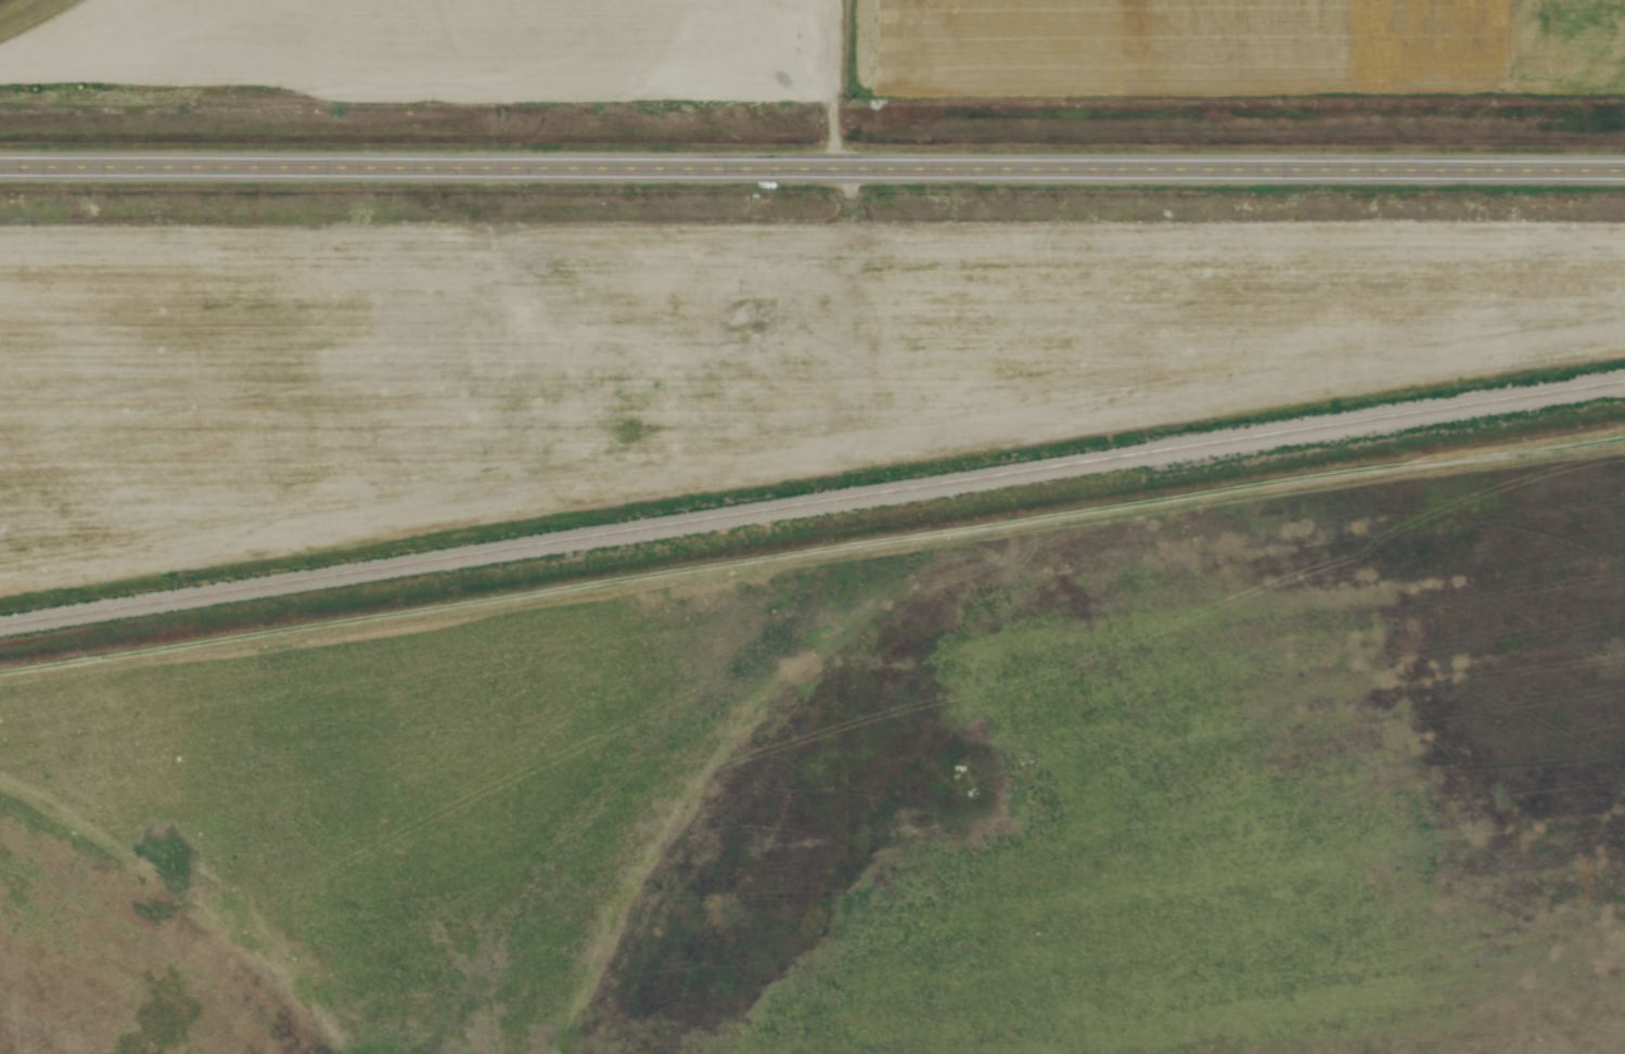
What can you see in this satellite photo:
road: (1245, 163)
road: (433, 165)
railway: (811, 503)

